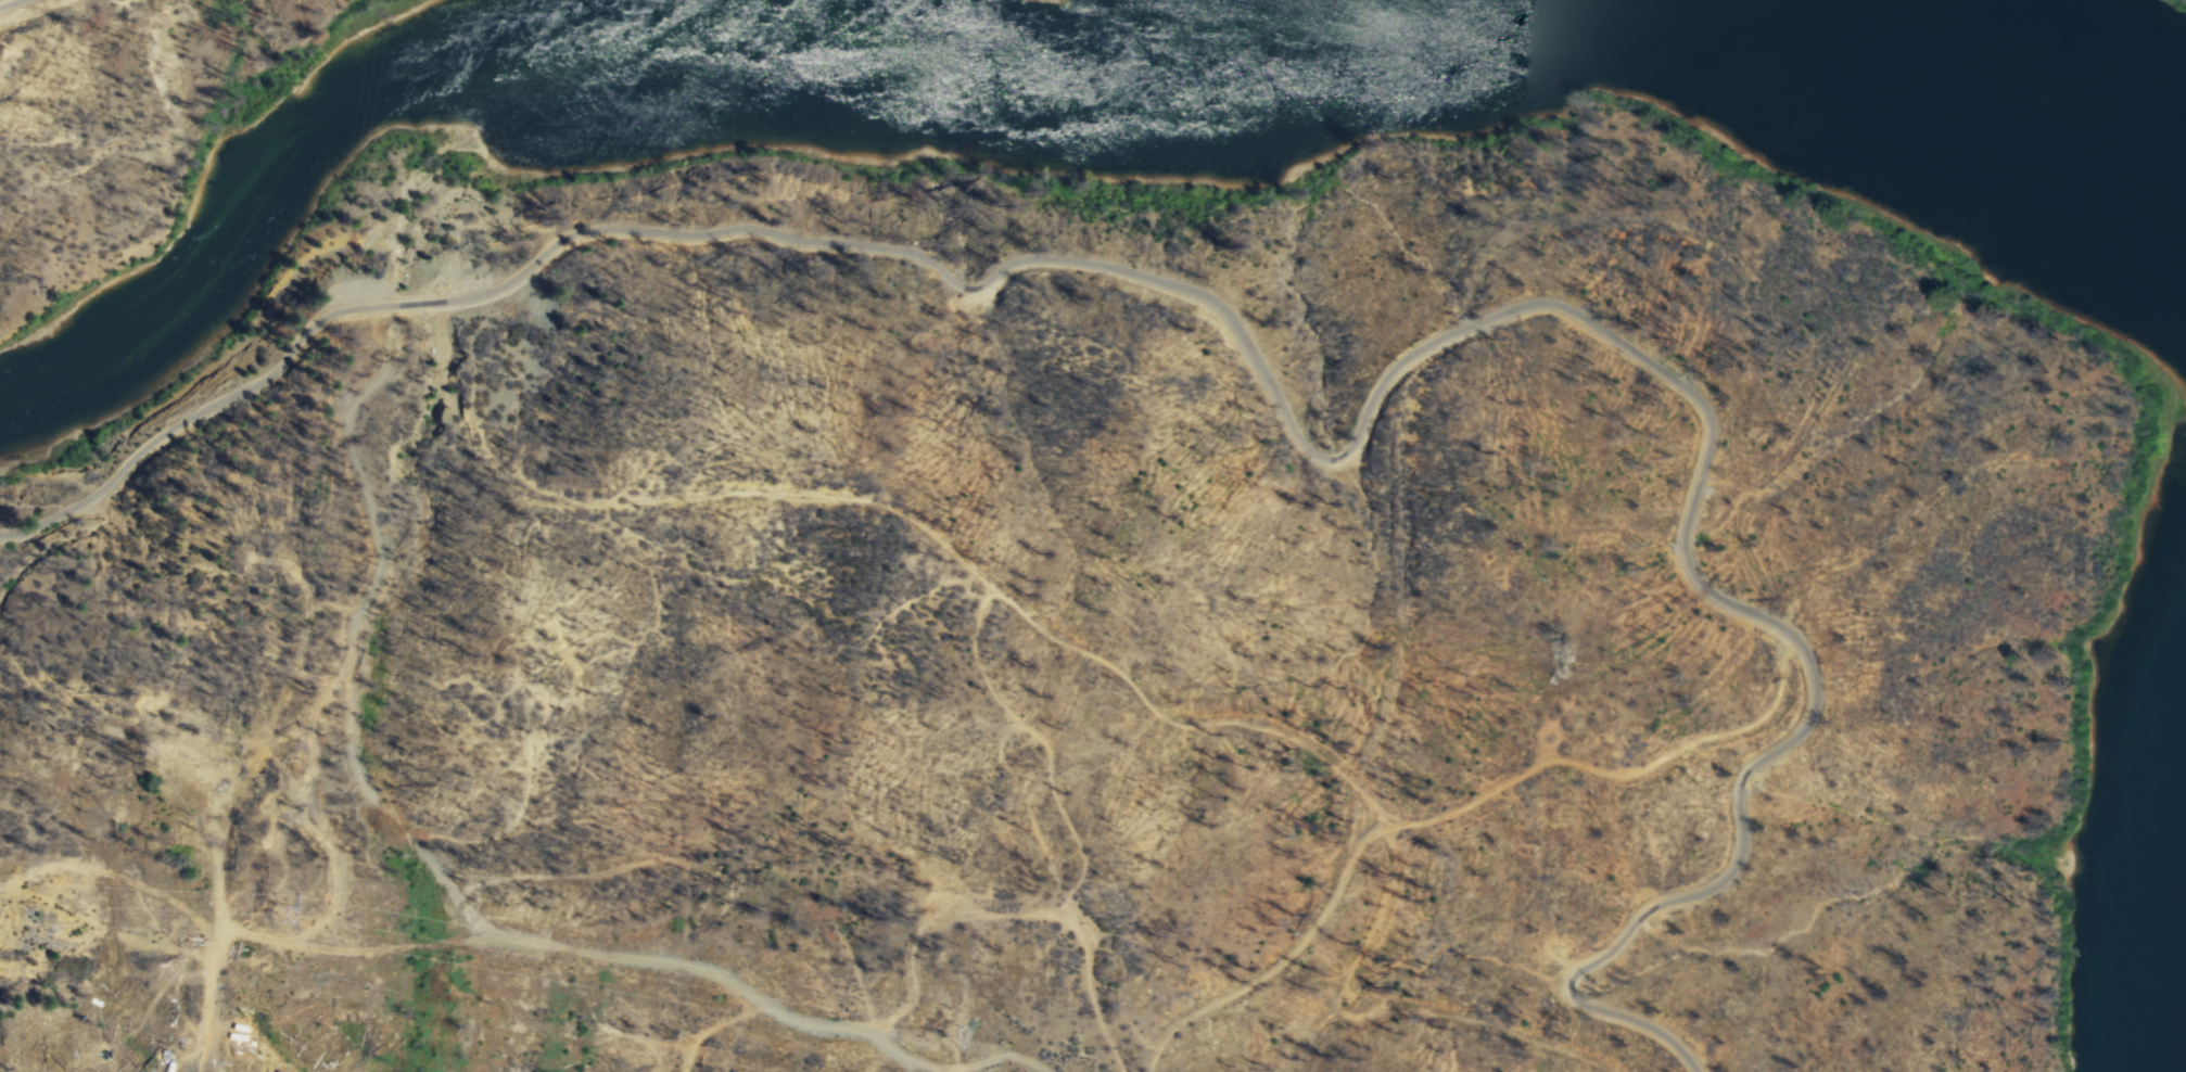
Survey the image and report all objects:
road: (8, 2)
road: (468, 295)
road: (1600, 326)
road: (320, 697)
road: (1170, 720)
road: (1044, 743)
road: (283, 769)
road: (1623, 773)
road: (238, 780)
road: (298, 795)
road: (376, 803)
road: (116, 873)
road: (1007, 915)
power tower: (284, 917)
road: (109, 929)
road: (847, 950)
road: (647, 959)
road: (1280, 962)
road: (1578, 991)
road: (208, 999)
road: (1378, 1011)
road: (714, 1025)
power tower: (954, 1034)

